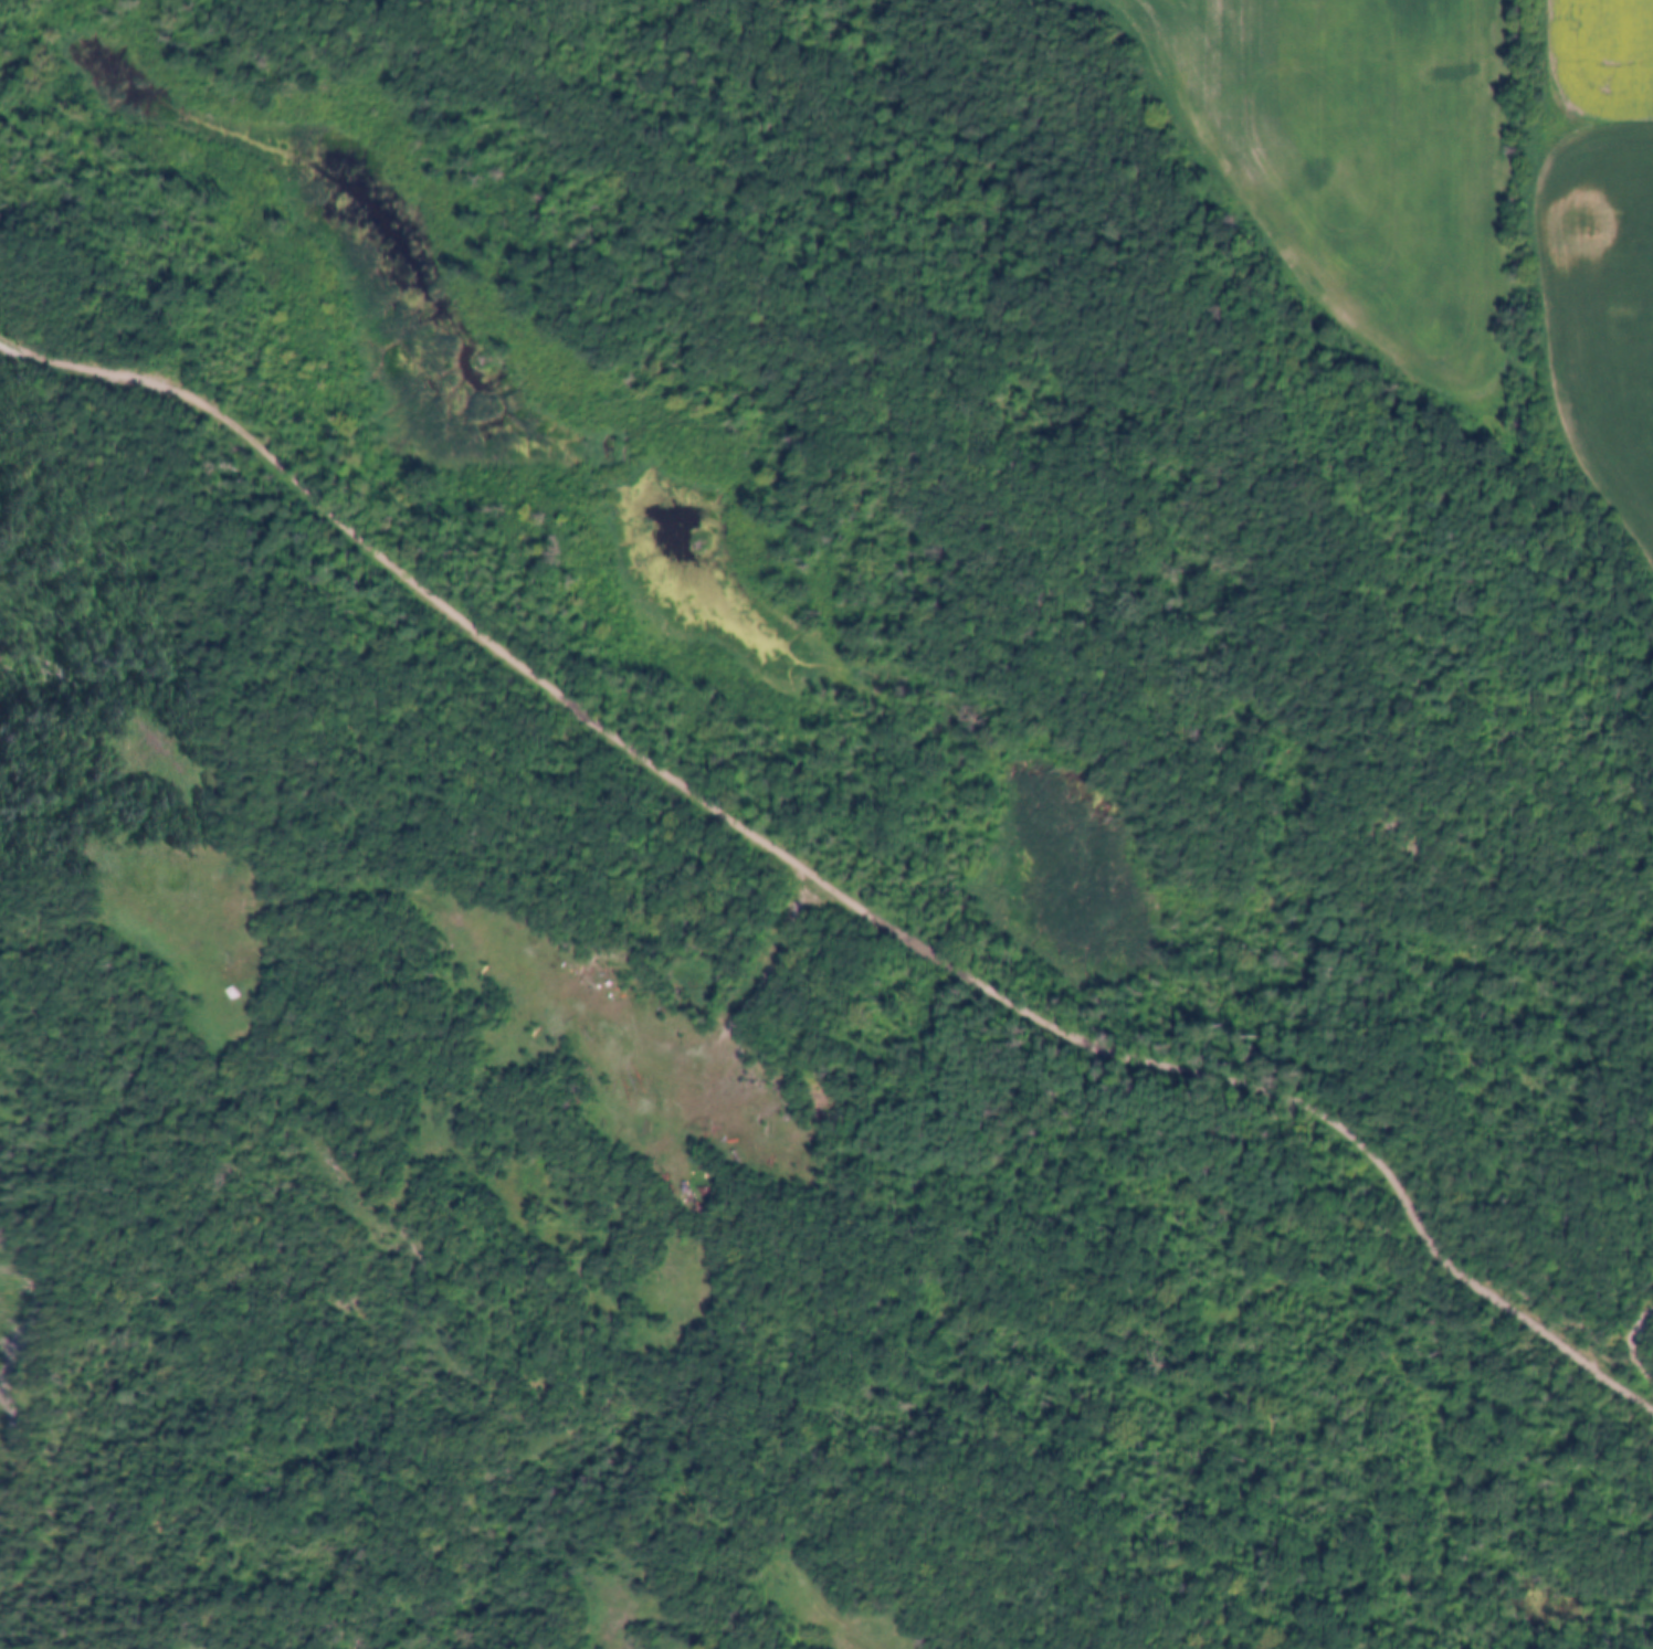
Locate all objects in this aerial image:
road: (1531, 29)
road: (826, 873)
road: (768, 982)

